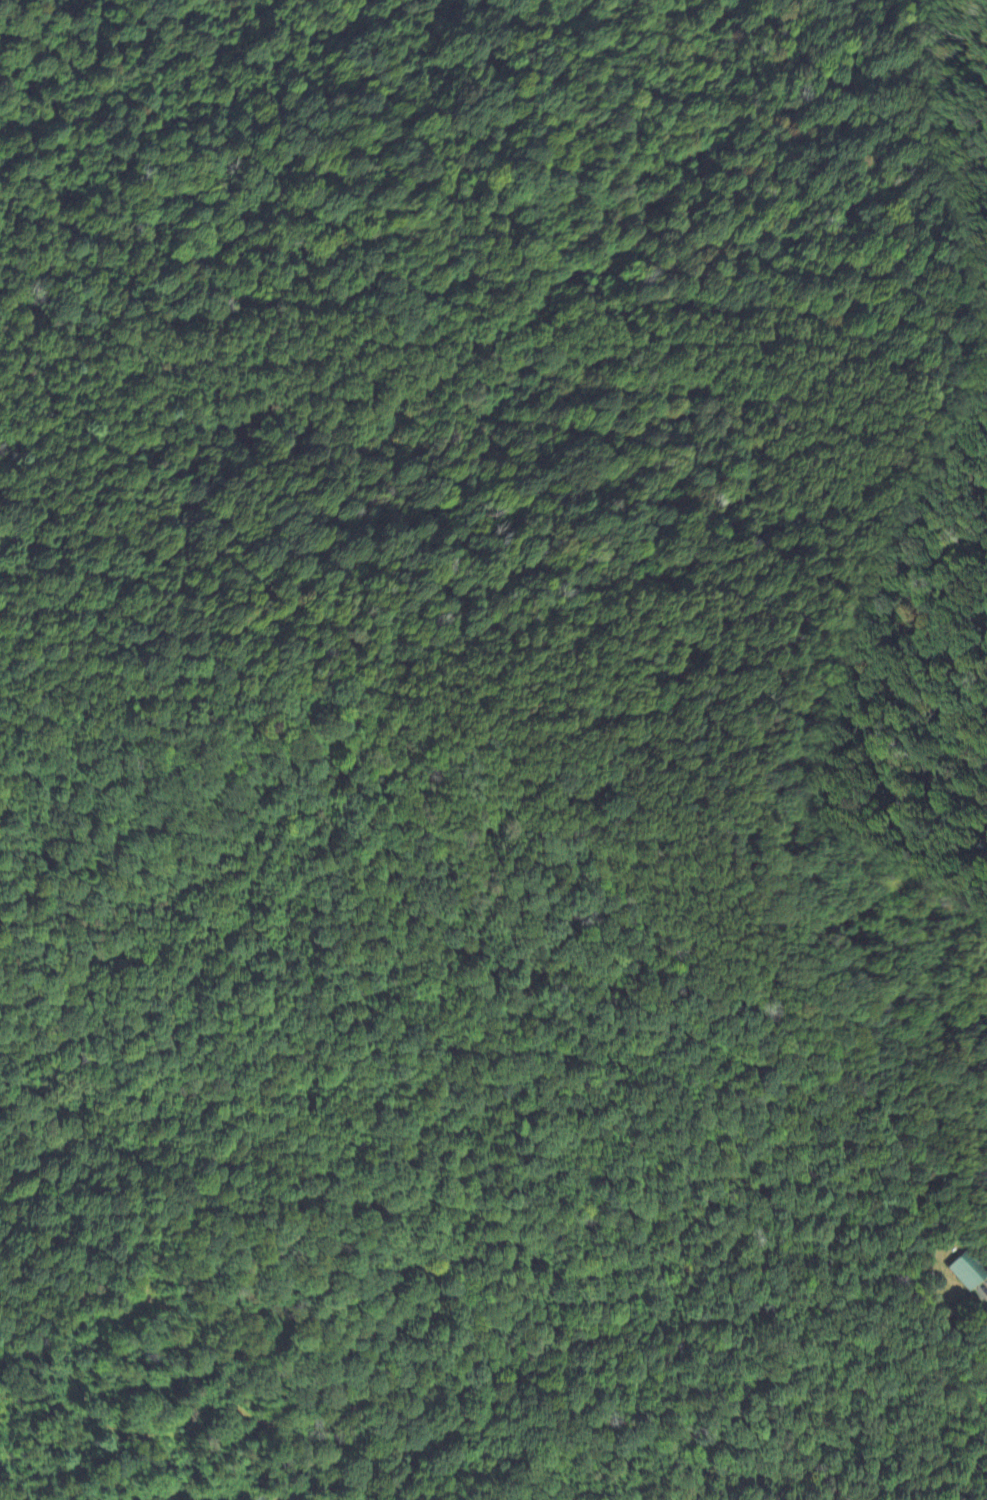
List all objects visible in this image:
building: (963, 1271)

